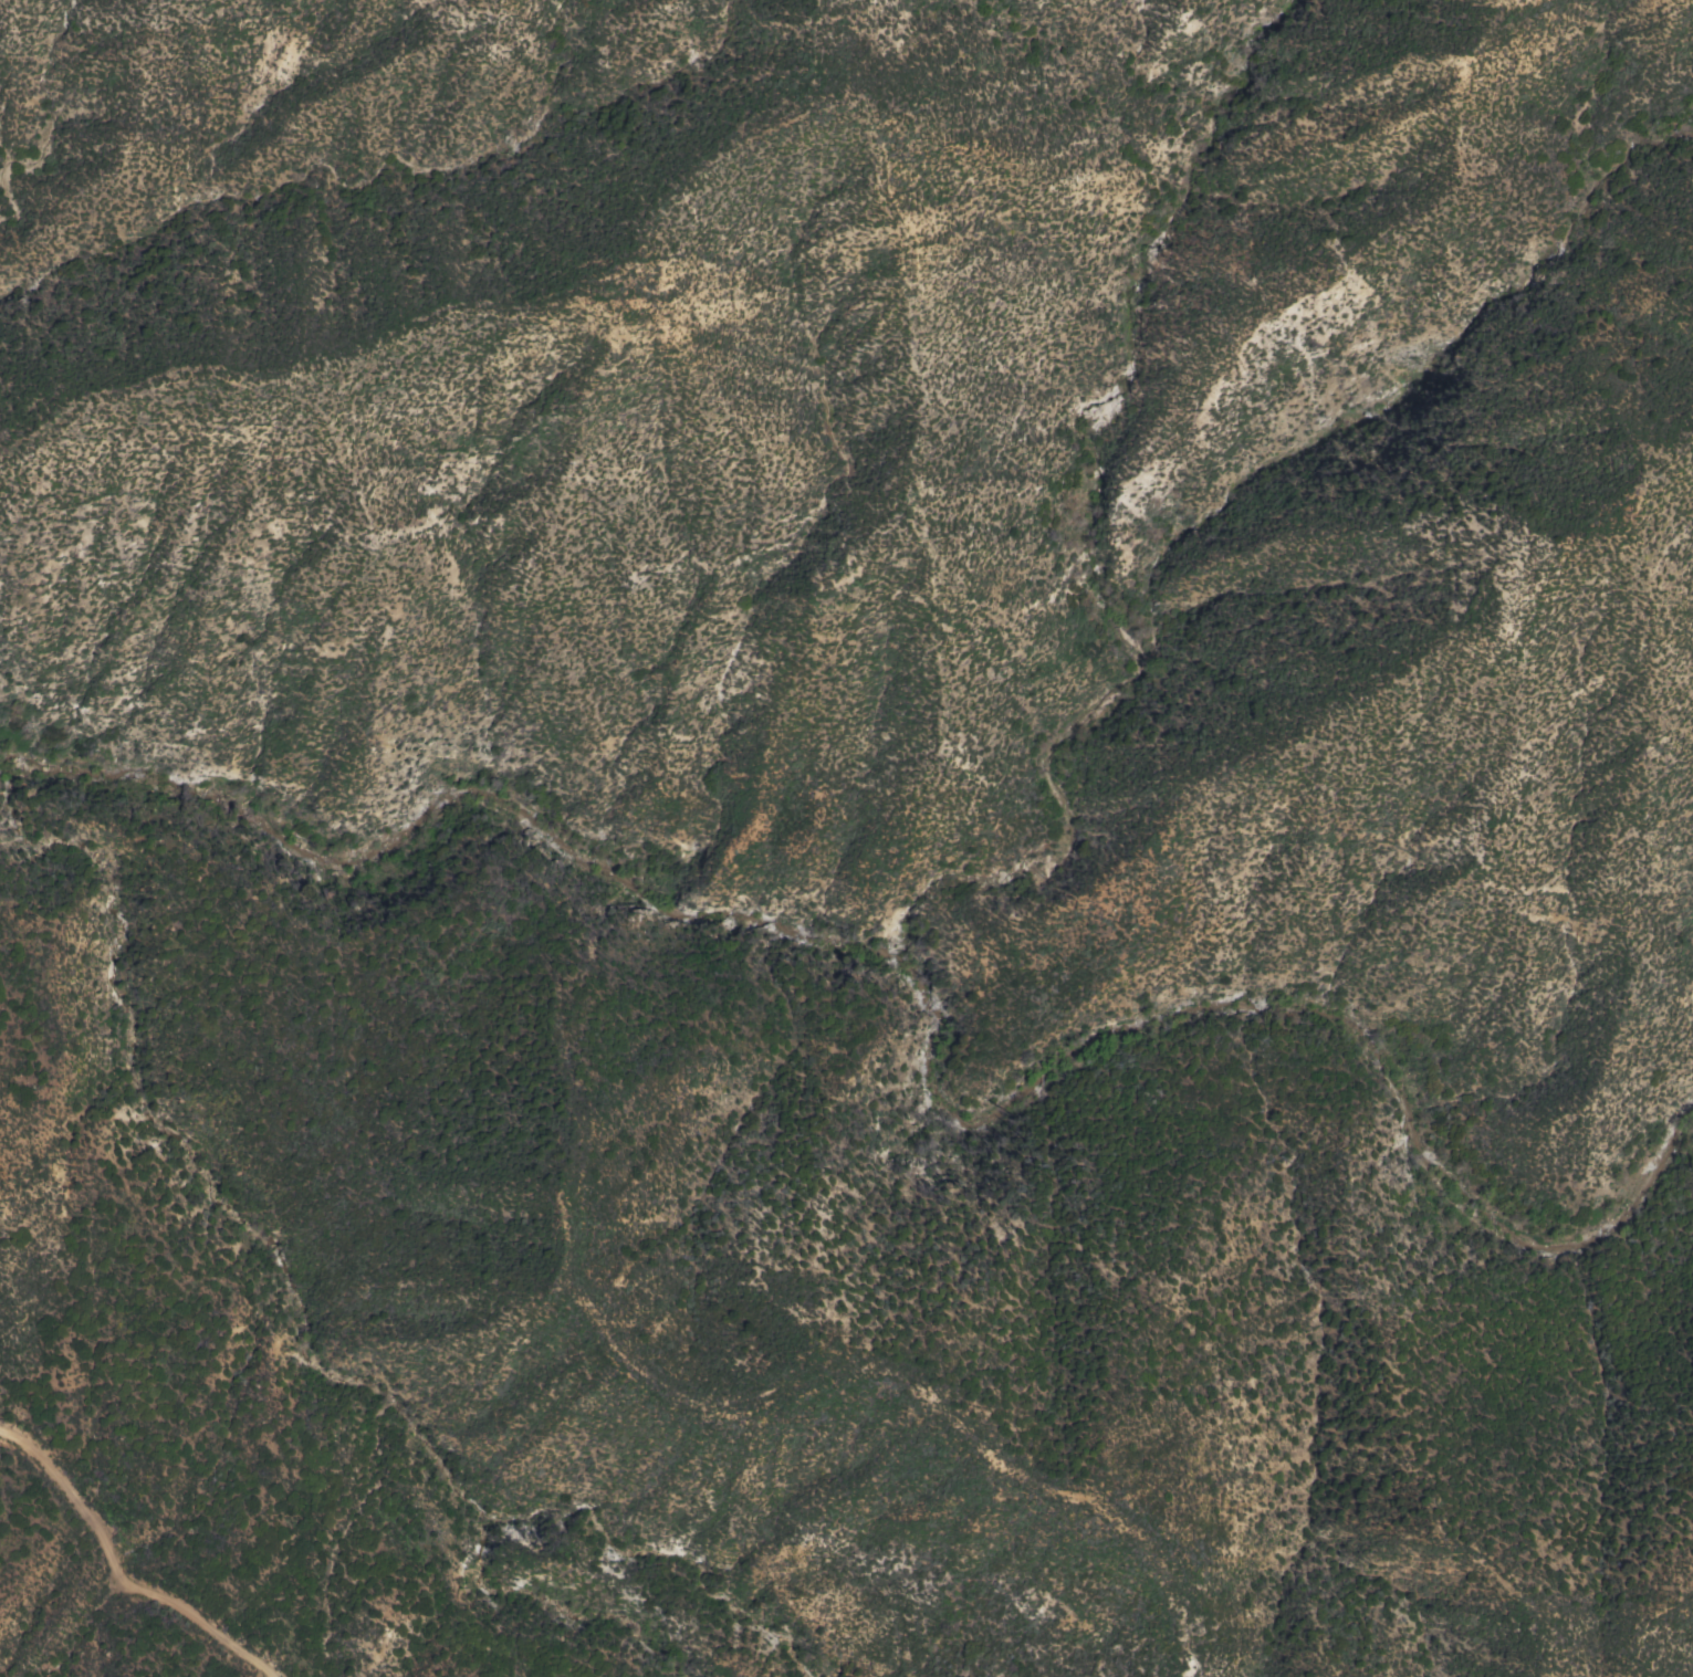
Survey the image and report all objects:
road: (115, 1572)

